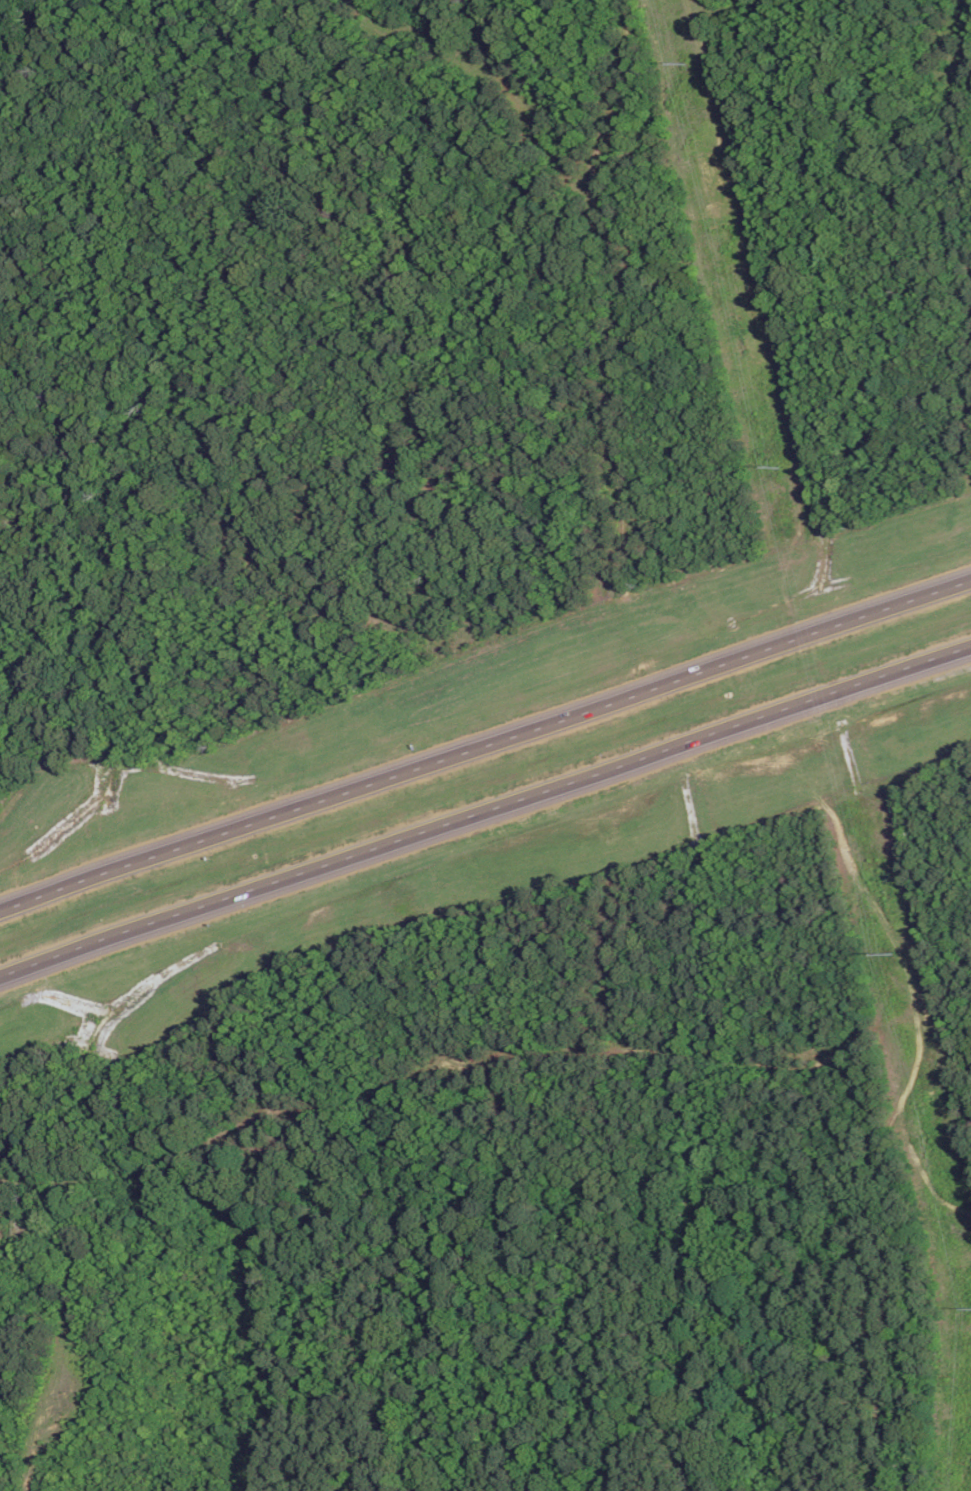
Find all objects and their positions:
road: (485, 740)
road: (485, 802)
road: (760, 823)
road: (915, 1015)
road: (454, 1063)

